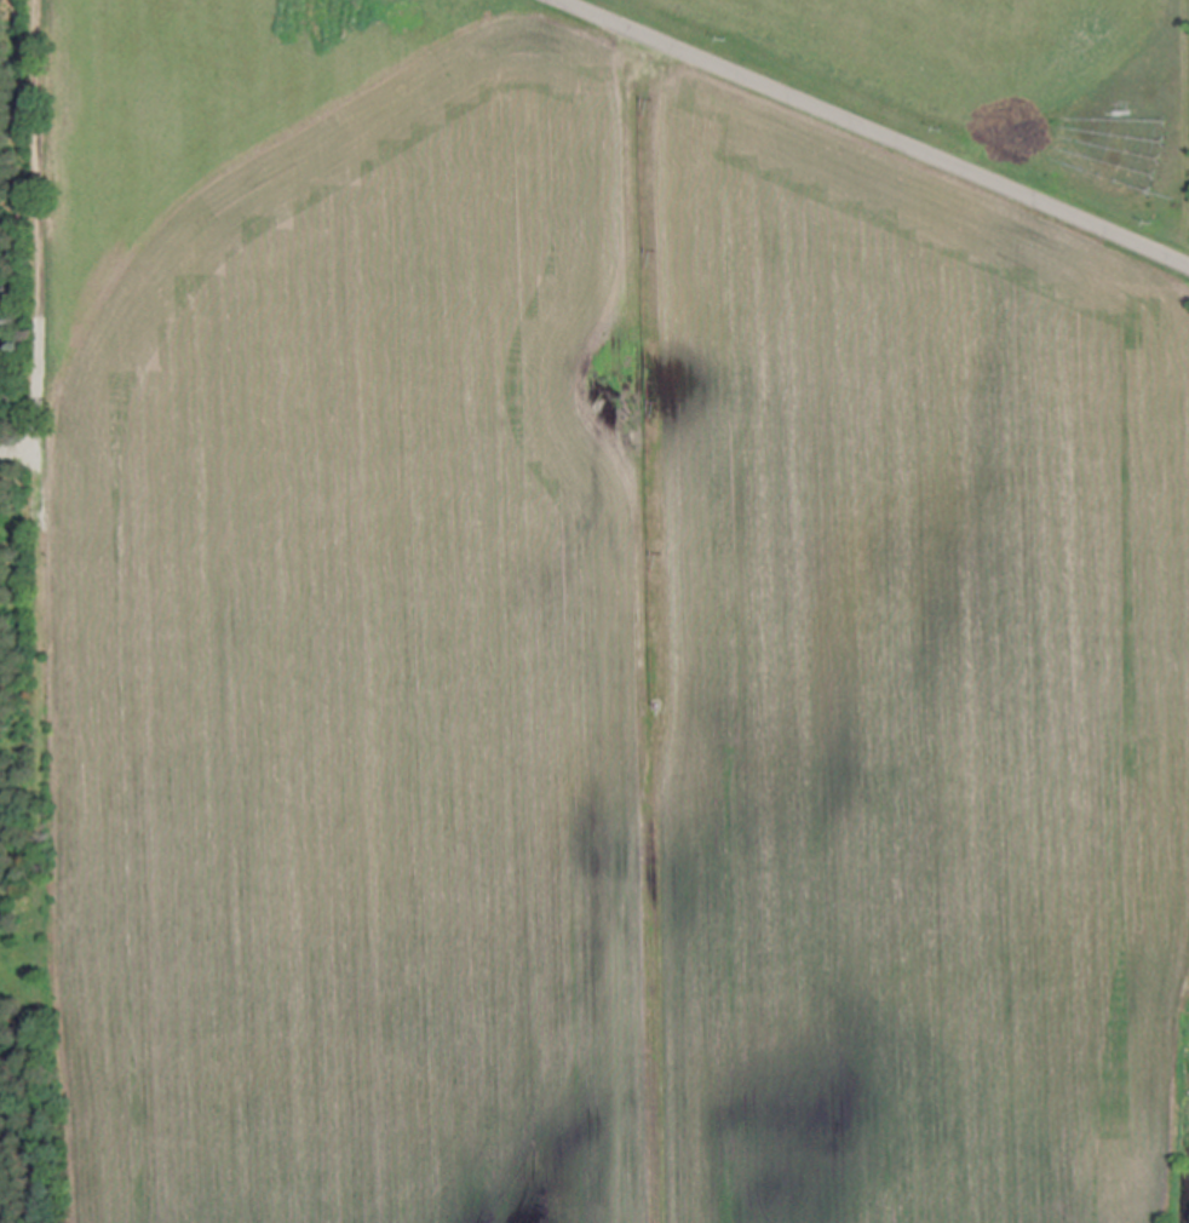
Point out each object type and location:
road: (867, 133)

